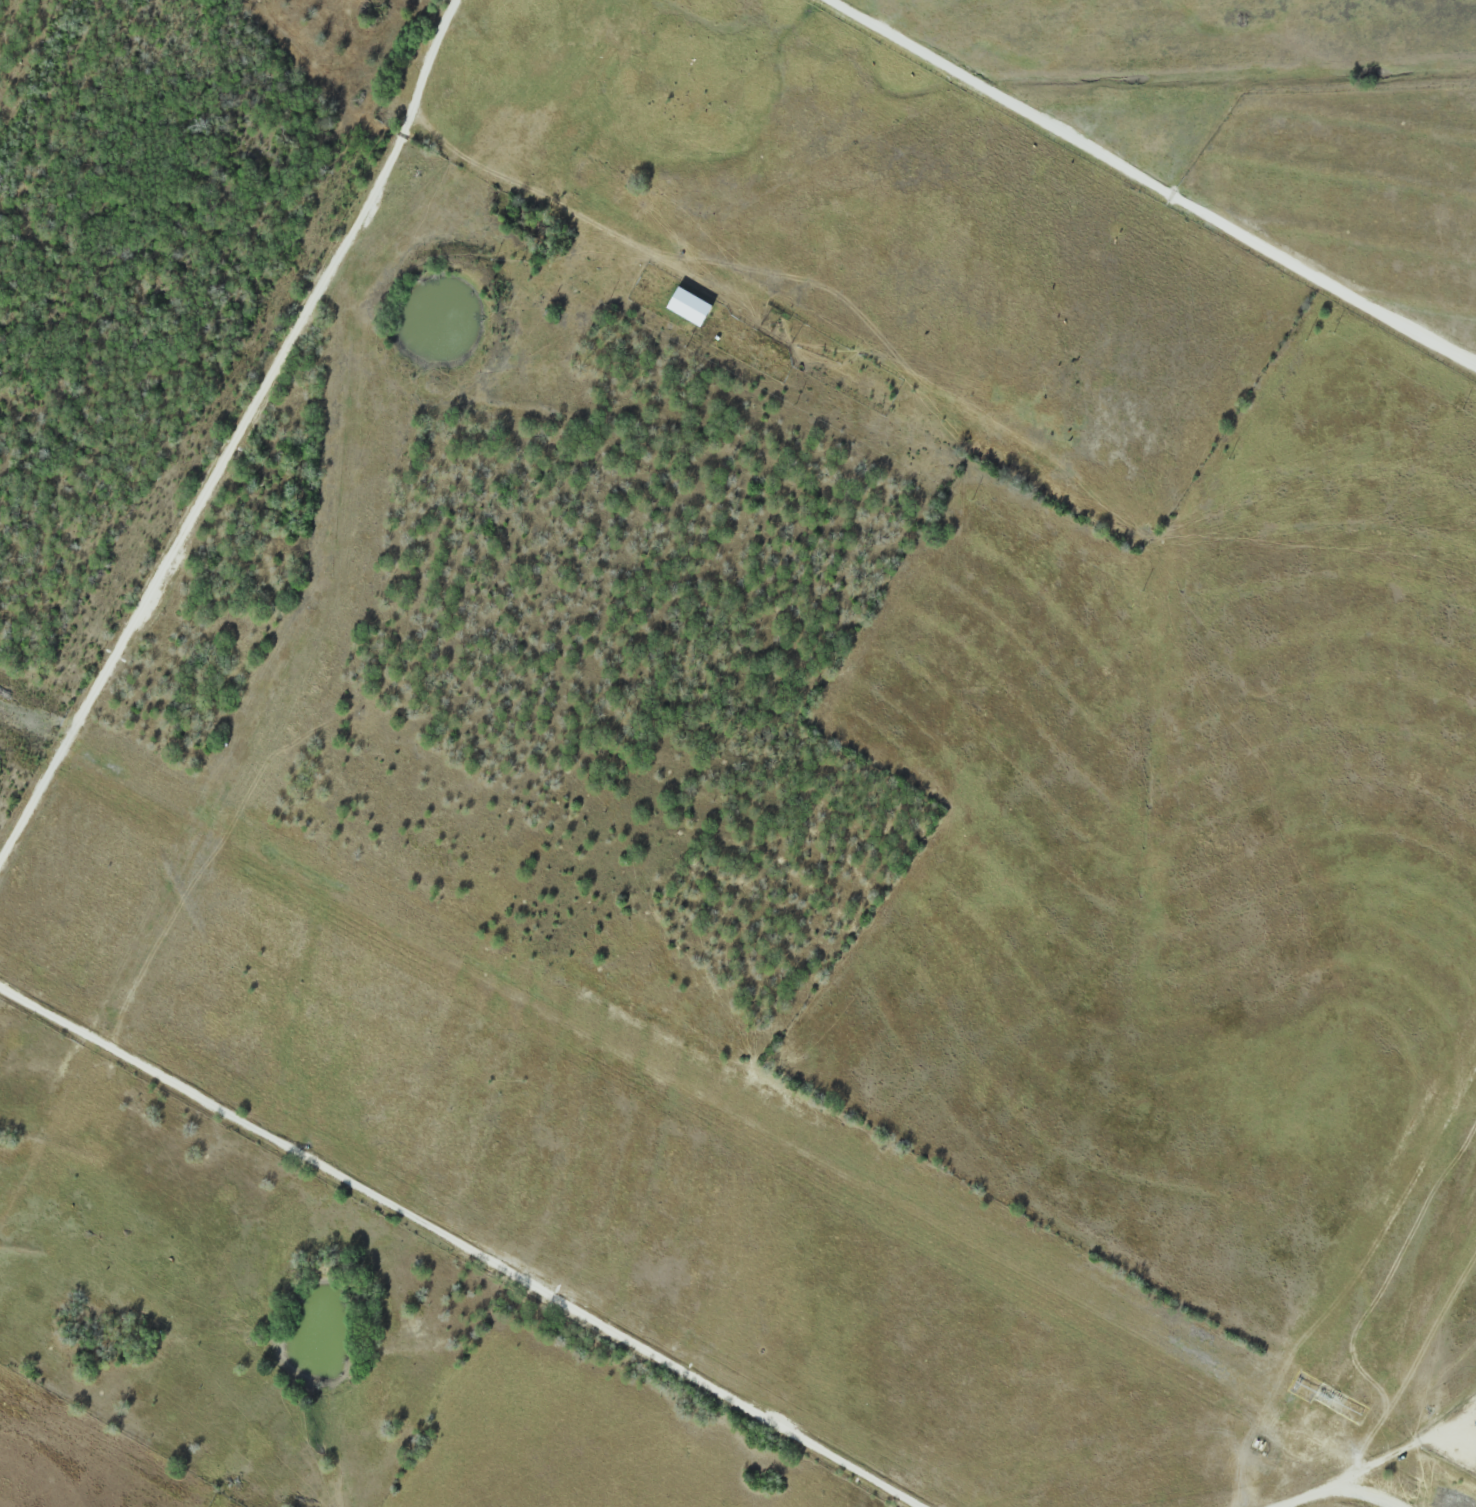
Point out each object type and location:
road: (1155, 182)
building: (691, 306)
road: (1466, 355)
road: (239, 445)
road: (465, 1239)
road: (1339, 1491)

